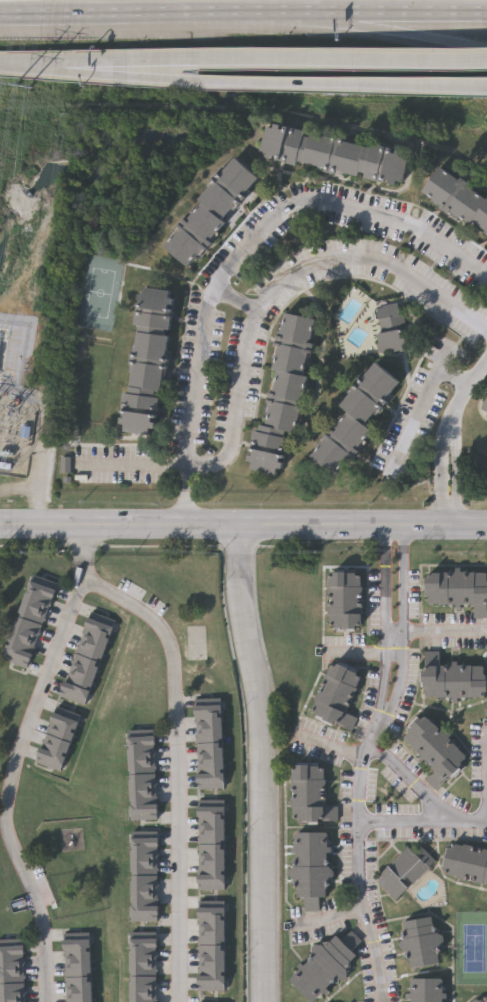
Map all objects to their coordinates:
road: (412, 11)
road: (169, 13)
road: (412, 30)
road: (308, 60)
road: (30, 61)
road: (95, 61)
road: (96, 69)
road: (309, 84)
power tower: (25, 89)
building: (334, 155)
building: (459, 198)
building: (216, 214)
road: (255, 233)
road: (277, 283)
road: (236, 299)
building: (392, 328)
building: (149, 363)
building: (284, 395)
road: (464, 395)
road: (422, 407)
building: (485, 407)
building: (486, 415)
building: (358, 419)
power substation: (16, 436)
road: (443, 442)
road: (455, 442)
road: (132, 467)
road: (183, 479)
road: (441, 488)
road: (457, 488)
road: (182, 507)
road: (243, 525)
road: (80, 545)
building: (42, 584)
building: (458, 589)
building: (37, 598)
building: (342, 599)
building: (32, 612)
building: (26, 626)
building: (98, 626)
road: (434, 632)
road: (385, 635)
building: (93, 639)
road: (404, 639)
building: (22, 641)
building: (88, 653)
road: (357, 654)
building: (17, 655)
building: (83, 665)
building: (79, 679)
building: (454, 680)
building: (74, 692)
building: (335, 694)
building: (208, 704)
building: (66, 715)
building: (209, 720)
building: (62, 727)
building: (141, 734)
building: (209, 735)
building: (58, 738)
building: (54, 749)
building: (432, 749)
building: (142, 750)
building: (210, 751)
building: (50, 760)
road: (263, 762)
building: (142, 765)
building: (211, 766)
road: (171, 768)
road: (11, 779)
building: (143, 781)
building: (211, 782)
road: (412, 783)
building: (308, 794)
building: (142, 796)
building: (211, 807)
building: (143, 812)
building: (211, 822)
road: (422, 824)
building: (144, 837)
building: (211, 837)
building: (144, 852)
building: (211, 852)
building: (465, 862)
building: (144, 867)
building: (308, 867)
building: (211, 868)
building: (402, 869)
road: (359, 873)
building: (144, 883)
building: (211, 883)
building: (144, 898)
building: (211, 906)
building: (144, 913)
road: (332, 917)
building: (211, 921)
building: (211, 936)
building: (143, 938)
building: (76, 939)
building: (419, 942)
building: (12, 944)
building: (211, 952)
building: (77, 954)
building: (143, 954)
building: (12, 959)
building: (324, 966)
building: (211, 967)
building: (143, 969)
building: (77, 970)
building: (12, 975)
building: (211, 982)
building: (143, 984)
building: (78, 985)
building: (423, 989)
building: (12, 990)
building: (79, 997)
building: (143, 997)
building: (13, 1000)
building: (485, 1000)

